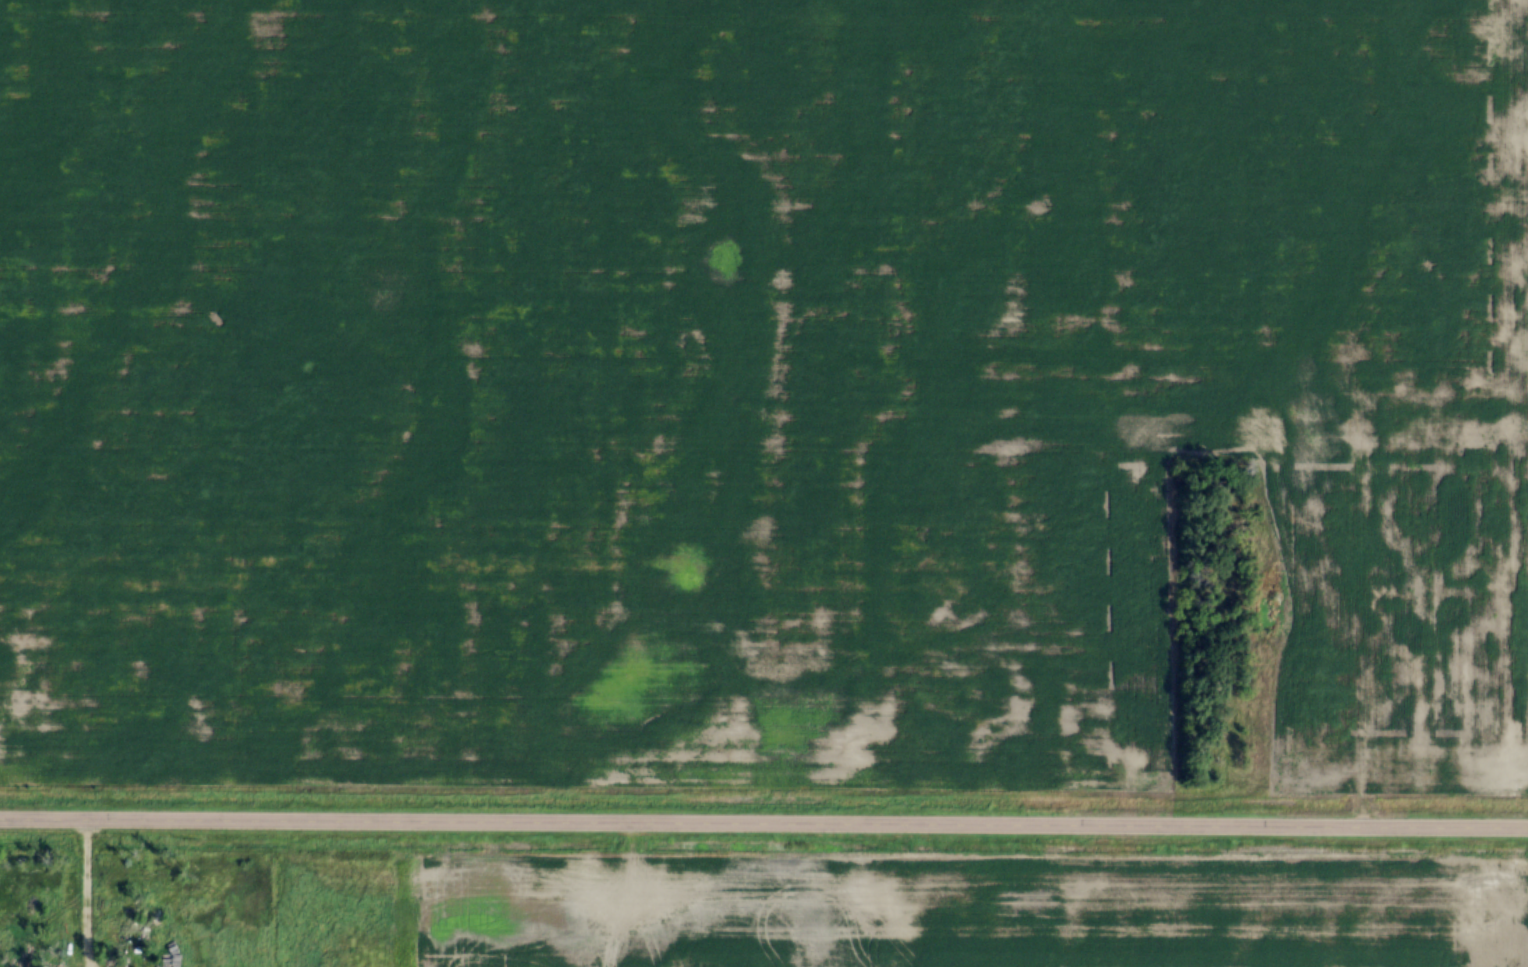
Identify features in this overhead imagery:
road: (764, 823)
road: (85, 894)
building: (134, 922)
building: (169, 964)

